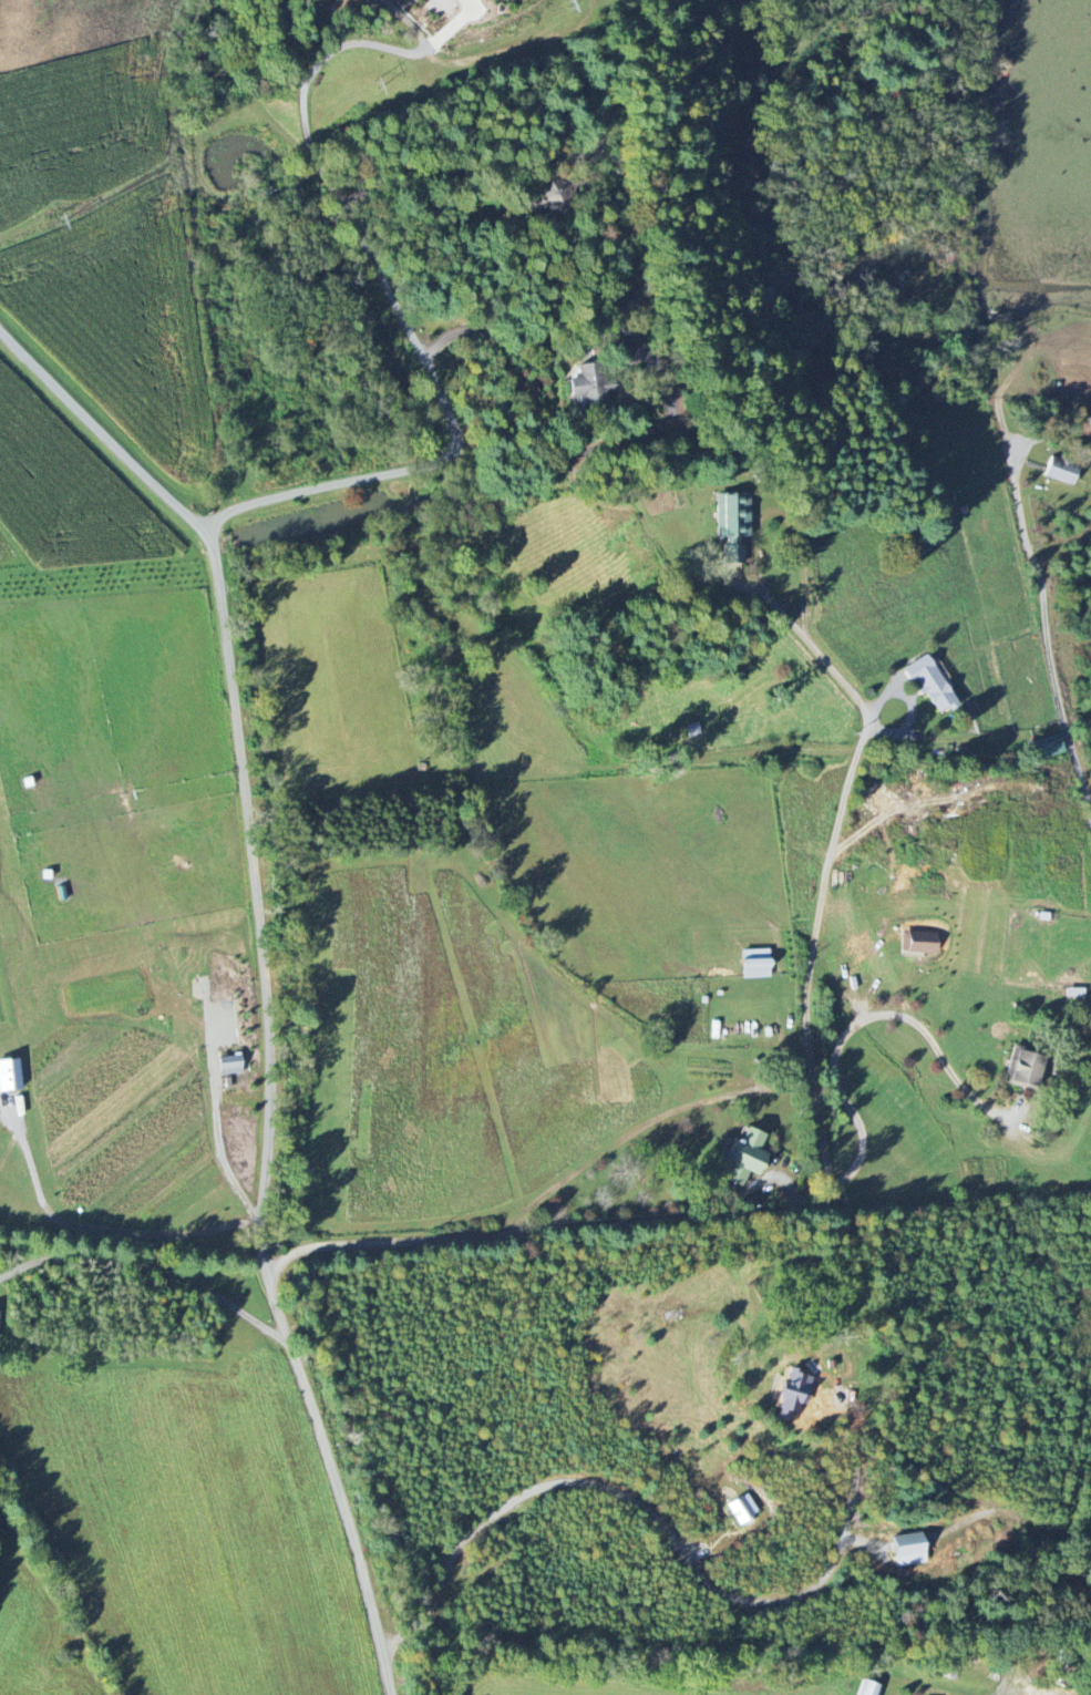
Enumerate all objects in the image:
building: (333, 0)
road: (384, 50)
road: (742, 74)
road: (613, 219)
building: (589, 386)
road: (106, 430)
building: (1062, 471)
building: (725, 515)
road: (1048, 634)
building: (930, 682)
road: (848, 688)
road: (237, 743)
building: (1049, 747)
building: (919, 943)
road: (856, 1024)
building: (231, 1066)
building: (1026, 1068)
building: (10, 1077)
road: (630, 1133)
road: (219, 1148)
building: (745, 1158)
road: (631, 1222)
road: (107, 1230)
road: (150, 1267)
building: (794, 1394)
building: (743, 1510)
road: (665, 1530)
building: (909, 1550)
park: (1062, 1593)
building: (867, 1688)

